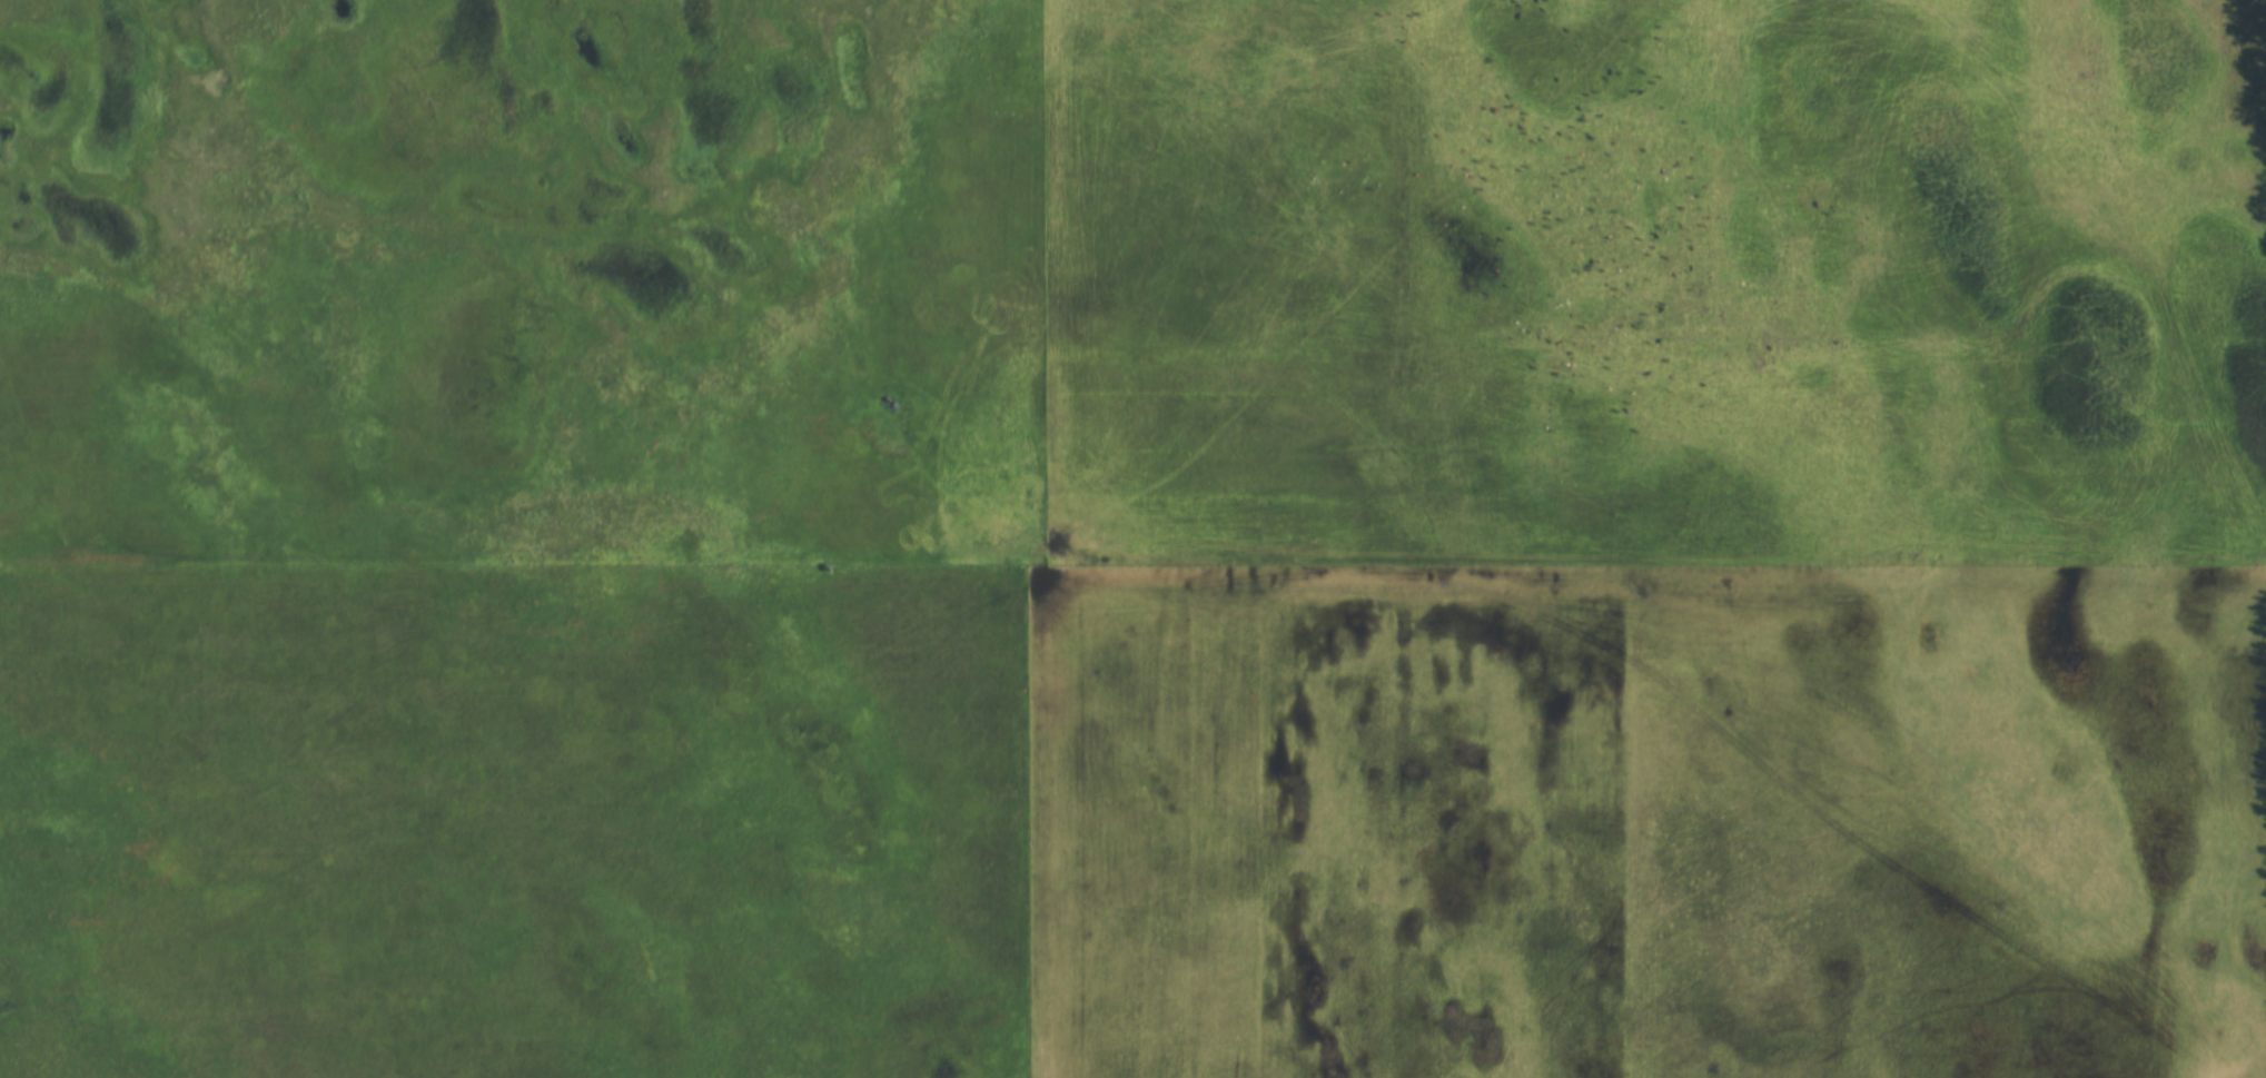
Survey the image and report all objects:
road: (1718, 726)

